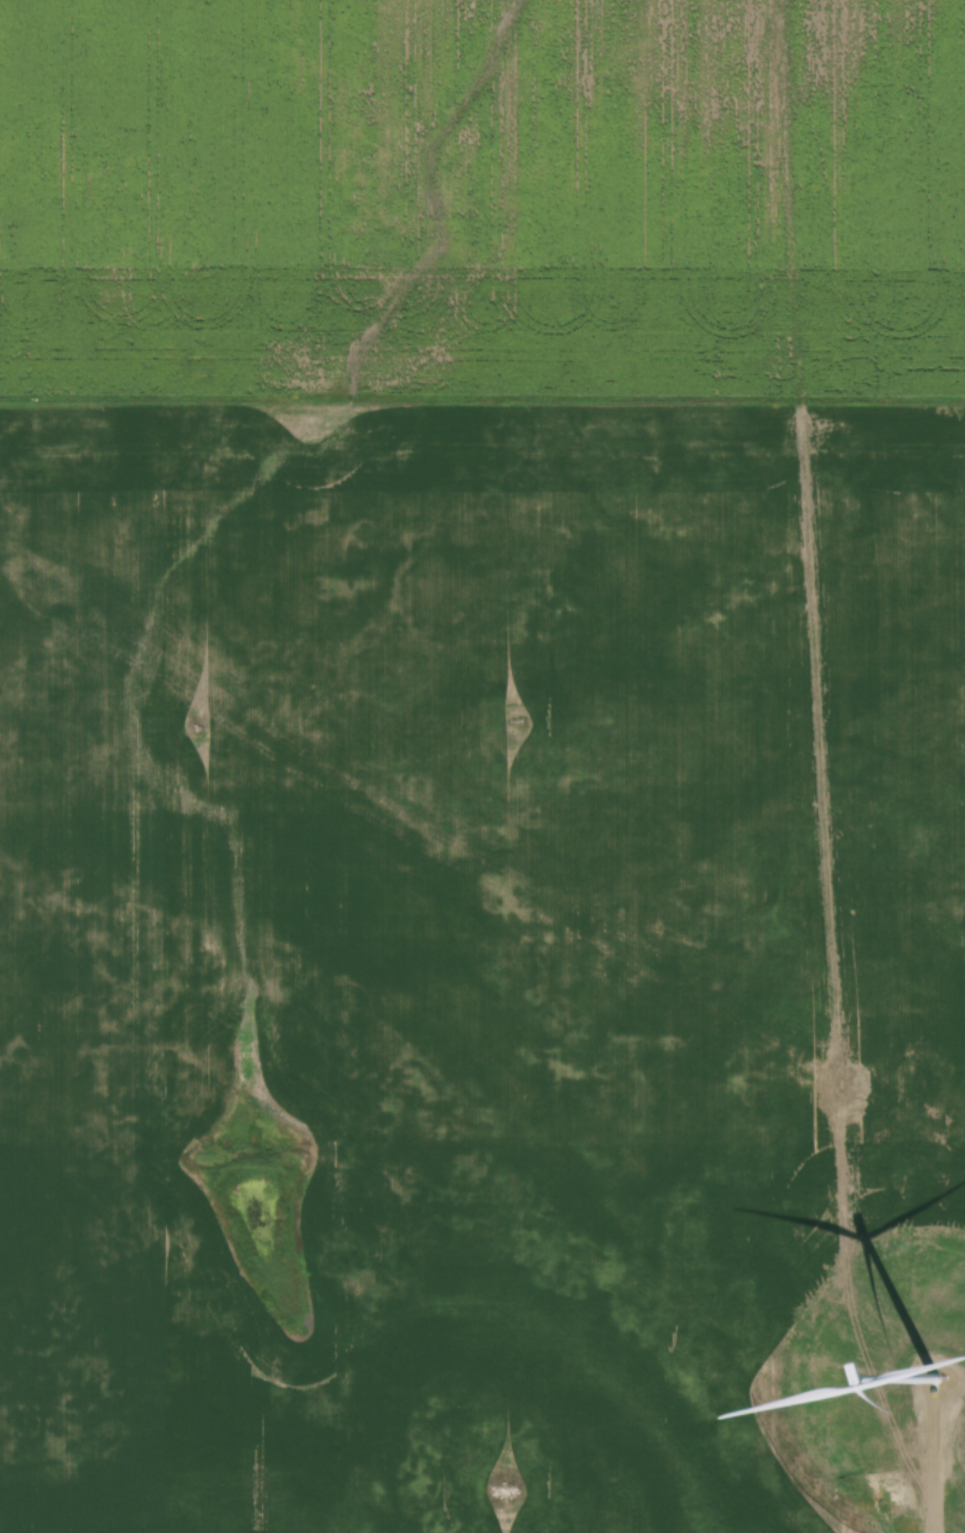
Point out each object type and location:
wind turbine: (940, 1383)

